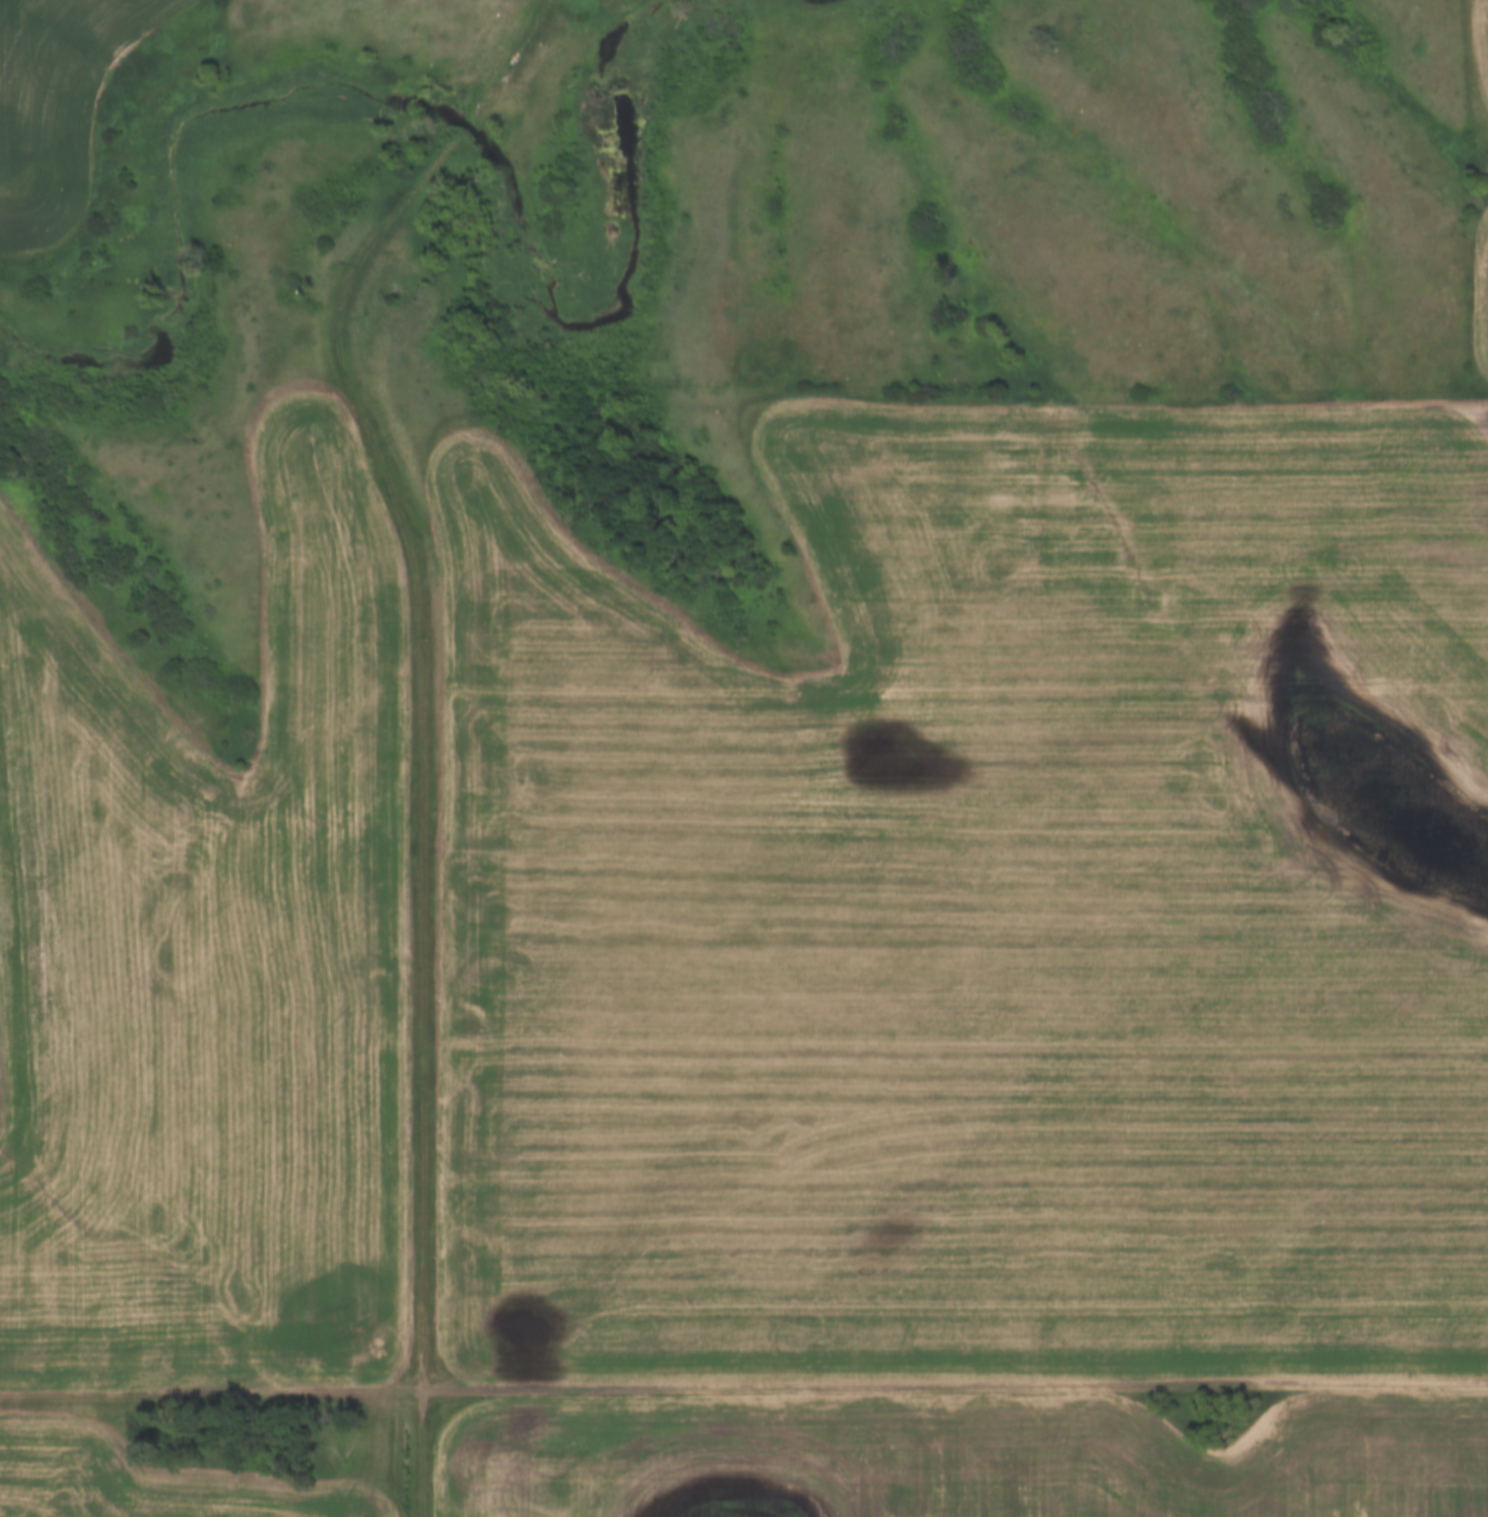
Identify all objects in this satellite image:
road: (521, 60)
road: (469, 124)
road: (423, 794)
road: (743, 1388)

